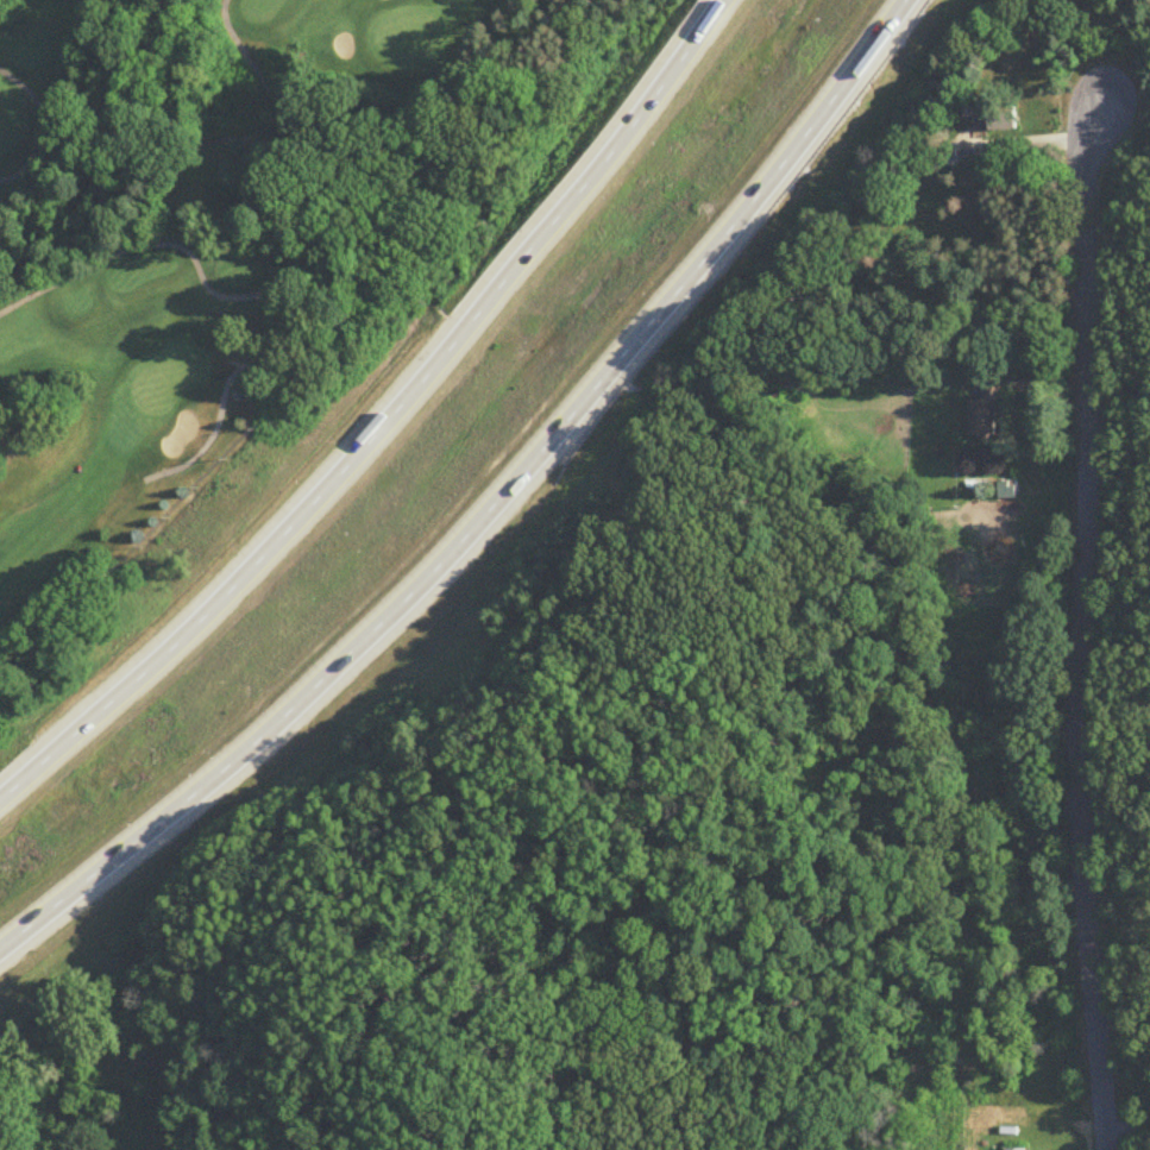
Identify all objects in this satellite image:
building: (999, 114)
road: (57, 117)
road: (1043, 138)
park: (219, 254)
road: (231, 373)
road: (1118, 402)
building: (986, 413)
road: (385, 421)
road: (489, 513)
road: (1082, 628)
road: (1127, 1130)

